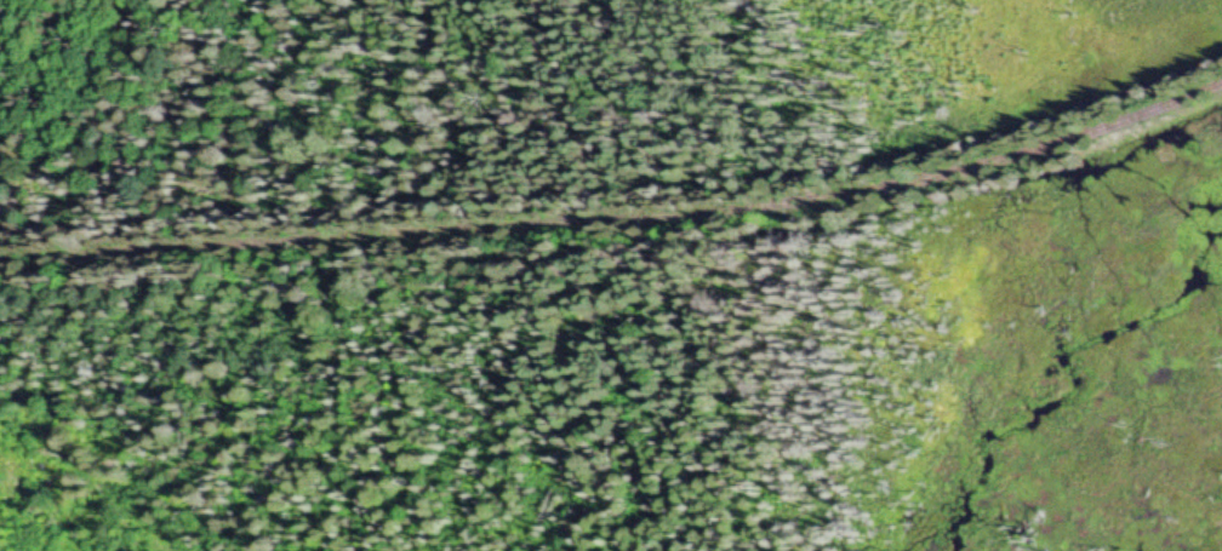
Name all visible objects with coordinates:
railway: (621, 228)

